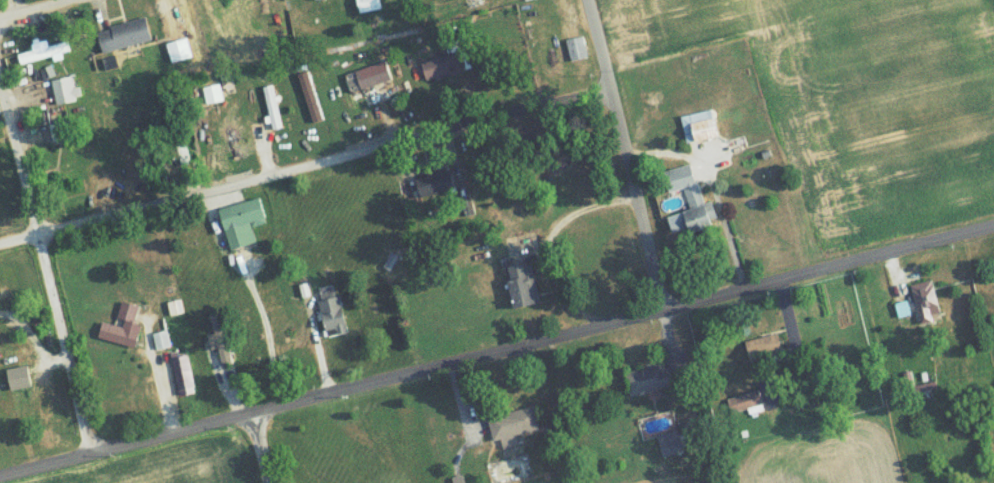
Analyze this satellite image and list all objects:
road: (36, 8)
crop: (853, 103)
road: (625, 155)
road: (304, 168)
road: (584, 215)
road: (47, 271)
road: (267, 336)
road: (496, 352)
road: (256, 448)
crop: (166, 462)

